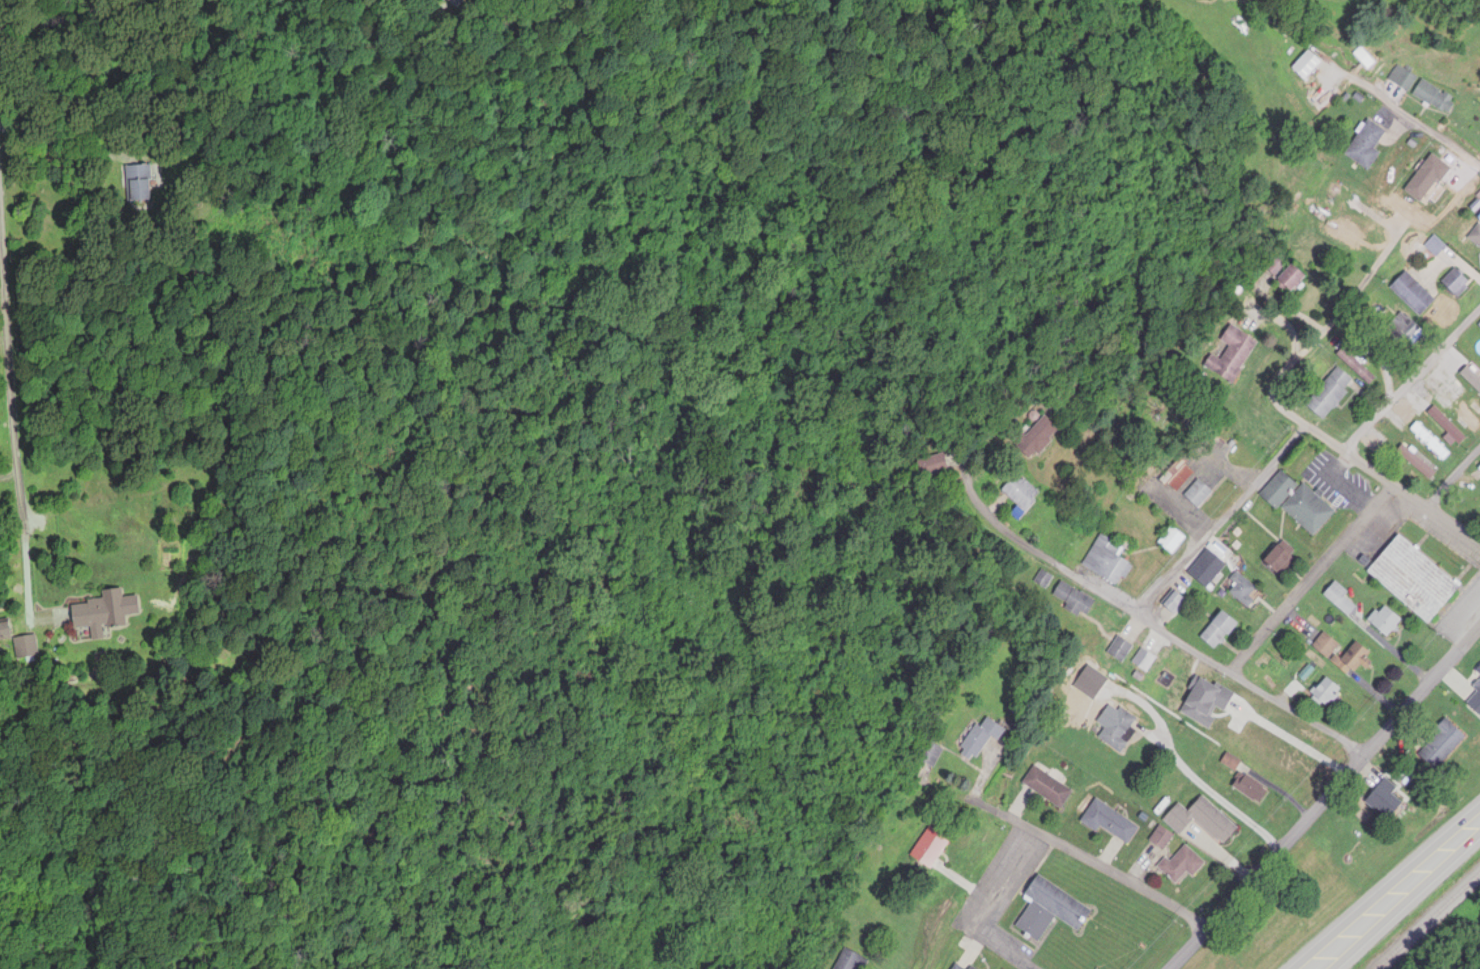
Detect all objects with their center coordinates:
building: (1363, 59)
building: (1305, 67)
building: (1402, 79)
building: (1433, 98)
road: (1403, 109)
building: (1364, 145)
building: (1425, 179)
building: (138, 184)
building: (1478, 198)
building: (1333, 208)
building: (1475, 237)
building: (1434, 247)
building: (1284, 274)
building: (1455, 284)
building: (1411, 294)
building: (1376, 306)
building: (1479, 328)
building: (1401, 330)
building: (1230, 355)
road: (1413, 377)
building: (1479, 381)
building: (1325, 399)
road: (1278, 402)
building: (1459, 411)
road: (16, 413)
building: (1445, 426)
building: (1033, 438)
building: (1429, 442)
building: (1415, 462)
road: (1469, 464)
building: (931, 466)
building: (1479, 469)
building: (1176, 475)
building: (1017, 491)
building: (1196, 494)
building: (1296, 504)
road: (1220, 516)
building: (1170, 541)
building: (1278, 558)
building: (1105, 562)
road: (1082, 578)
road: (1314, 579)
building: (1043, 580)
building: (1412, 580)
building: (1241, 590)
building: (1073, 600)
building: (1339, 601)
building: (1173, 605)
building: (100, 613)
building: (1384, 622)
building: (1217, 631)
building: (1118, 650)
building: (1354, 656)
building: (1095, 682)
building: (1263, 682)
building: (1477, 687)
building: (1324, 692)
building: (1475, 704)
building: (1116, 730)
building: (979, 738)
building: (1440, 745)
building: (928, 755)
building: (1046, 788)
building: (1249, 789)
road: (1325, 800)
building: (1200, 820)
building: (1108, 822)
building: (1160, 838)
building: (928, 848)
road: (1085, 860)
building: (1181, 865)
road: (1397, 895)
road: (971, 896)
building: (1048, 910)
railway: (1431, 924)
building: (846, 960)
building: (956, 967)
building: (968, 968)

